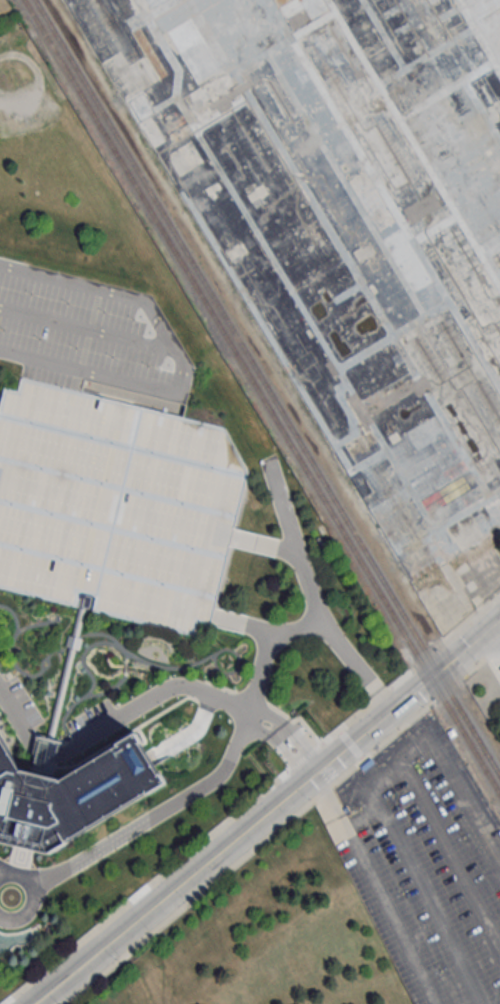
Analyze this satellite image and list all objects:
road: (87, 327)
parking lot: (88, 333)
railway: (225, 341)
road: (181, 359)
railway: (268, 388)
building: (114, 505)
parking lot: (114, 505)
road: (312, 602)
road: (472, 618)
road: (499, 622)
road: (466, 648)
road: (262, 651)
road: (483, 657)
road: (152, 696)
road: (428, 732)
railway: (466, 735)
building: (70, 792)
road: (138, 827)
road: (238, 841)
parking lot: (423, 867)
road: (376, 888)

